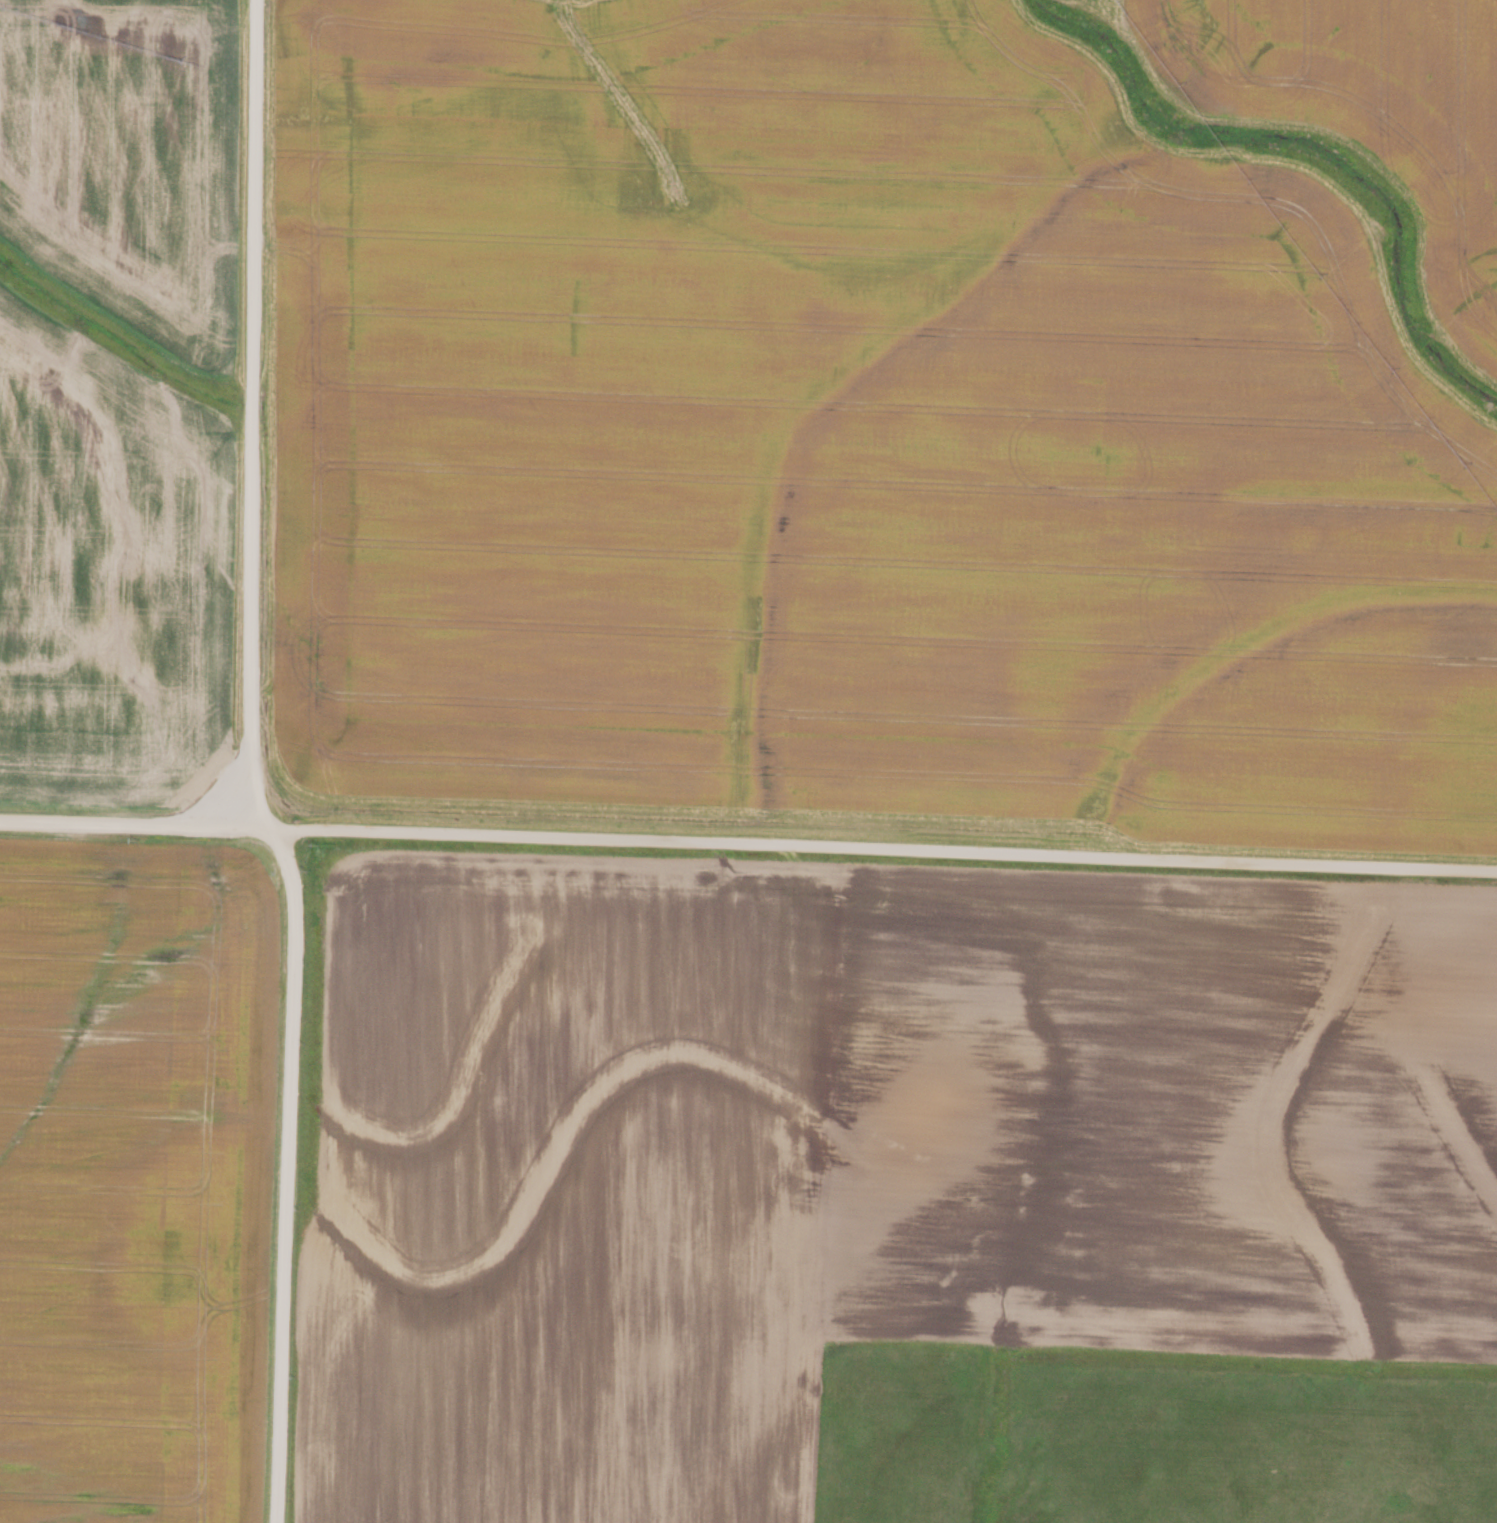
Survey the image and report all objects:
road: (254, 412)
road: (127, 823)
road: (886, 847)
road: (288, 1162)

